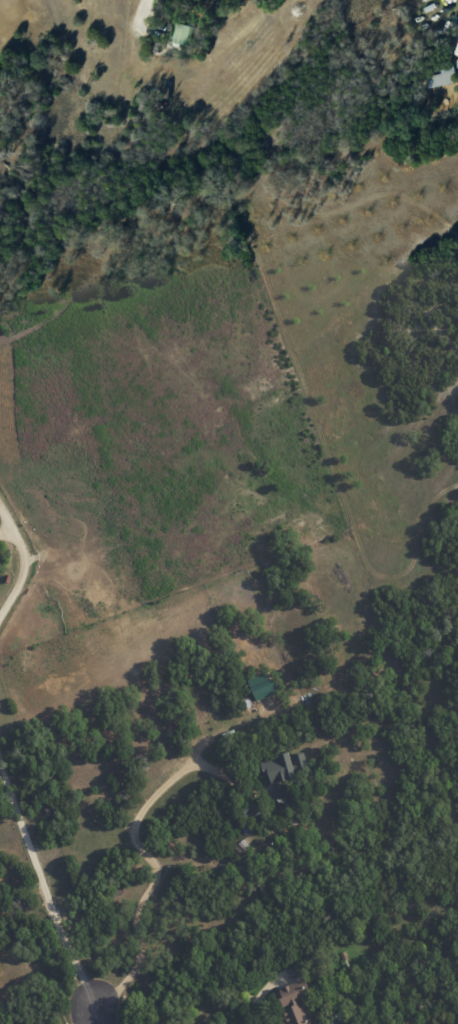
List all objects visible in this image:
road: (141, 10)
building: (181, 32)
building: (442, 76)
road: (24, 562)
building: (260, 687)
building: (284, 772)
building: (249, 809)
road: (151, 874)
road: (43, 889)
building: (293, 1004)
road: (83, 1016)
road: (95, 1016)

